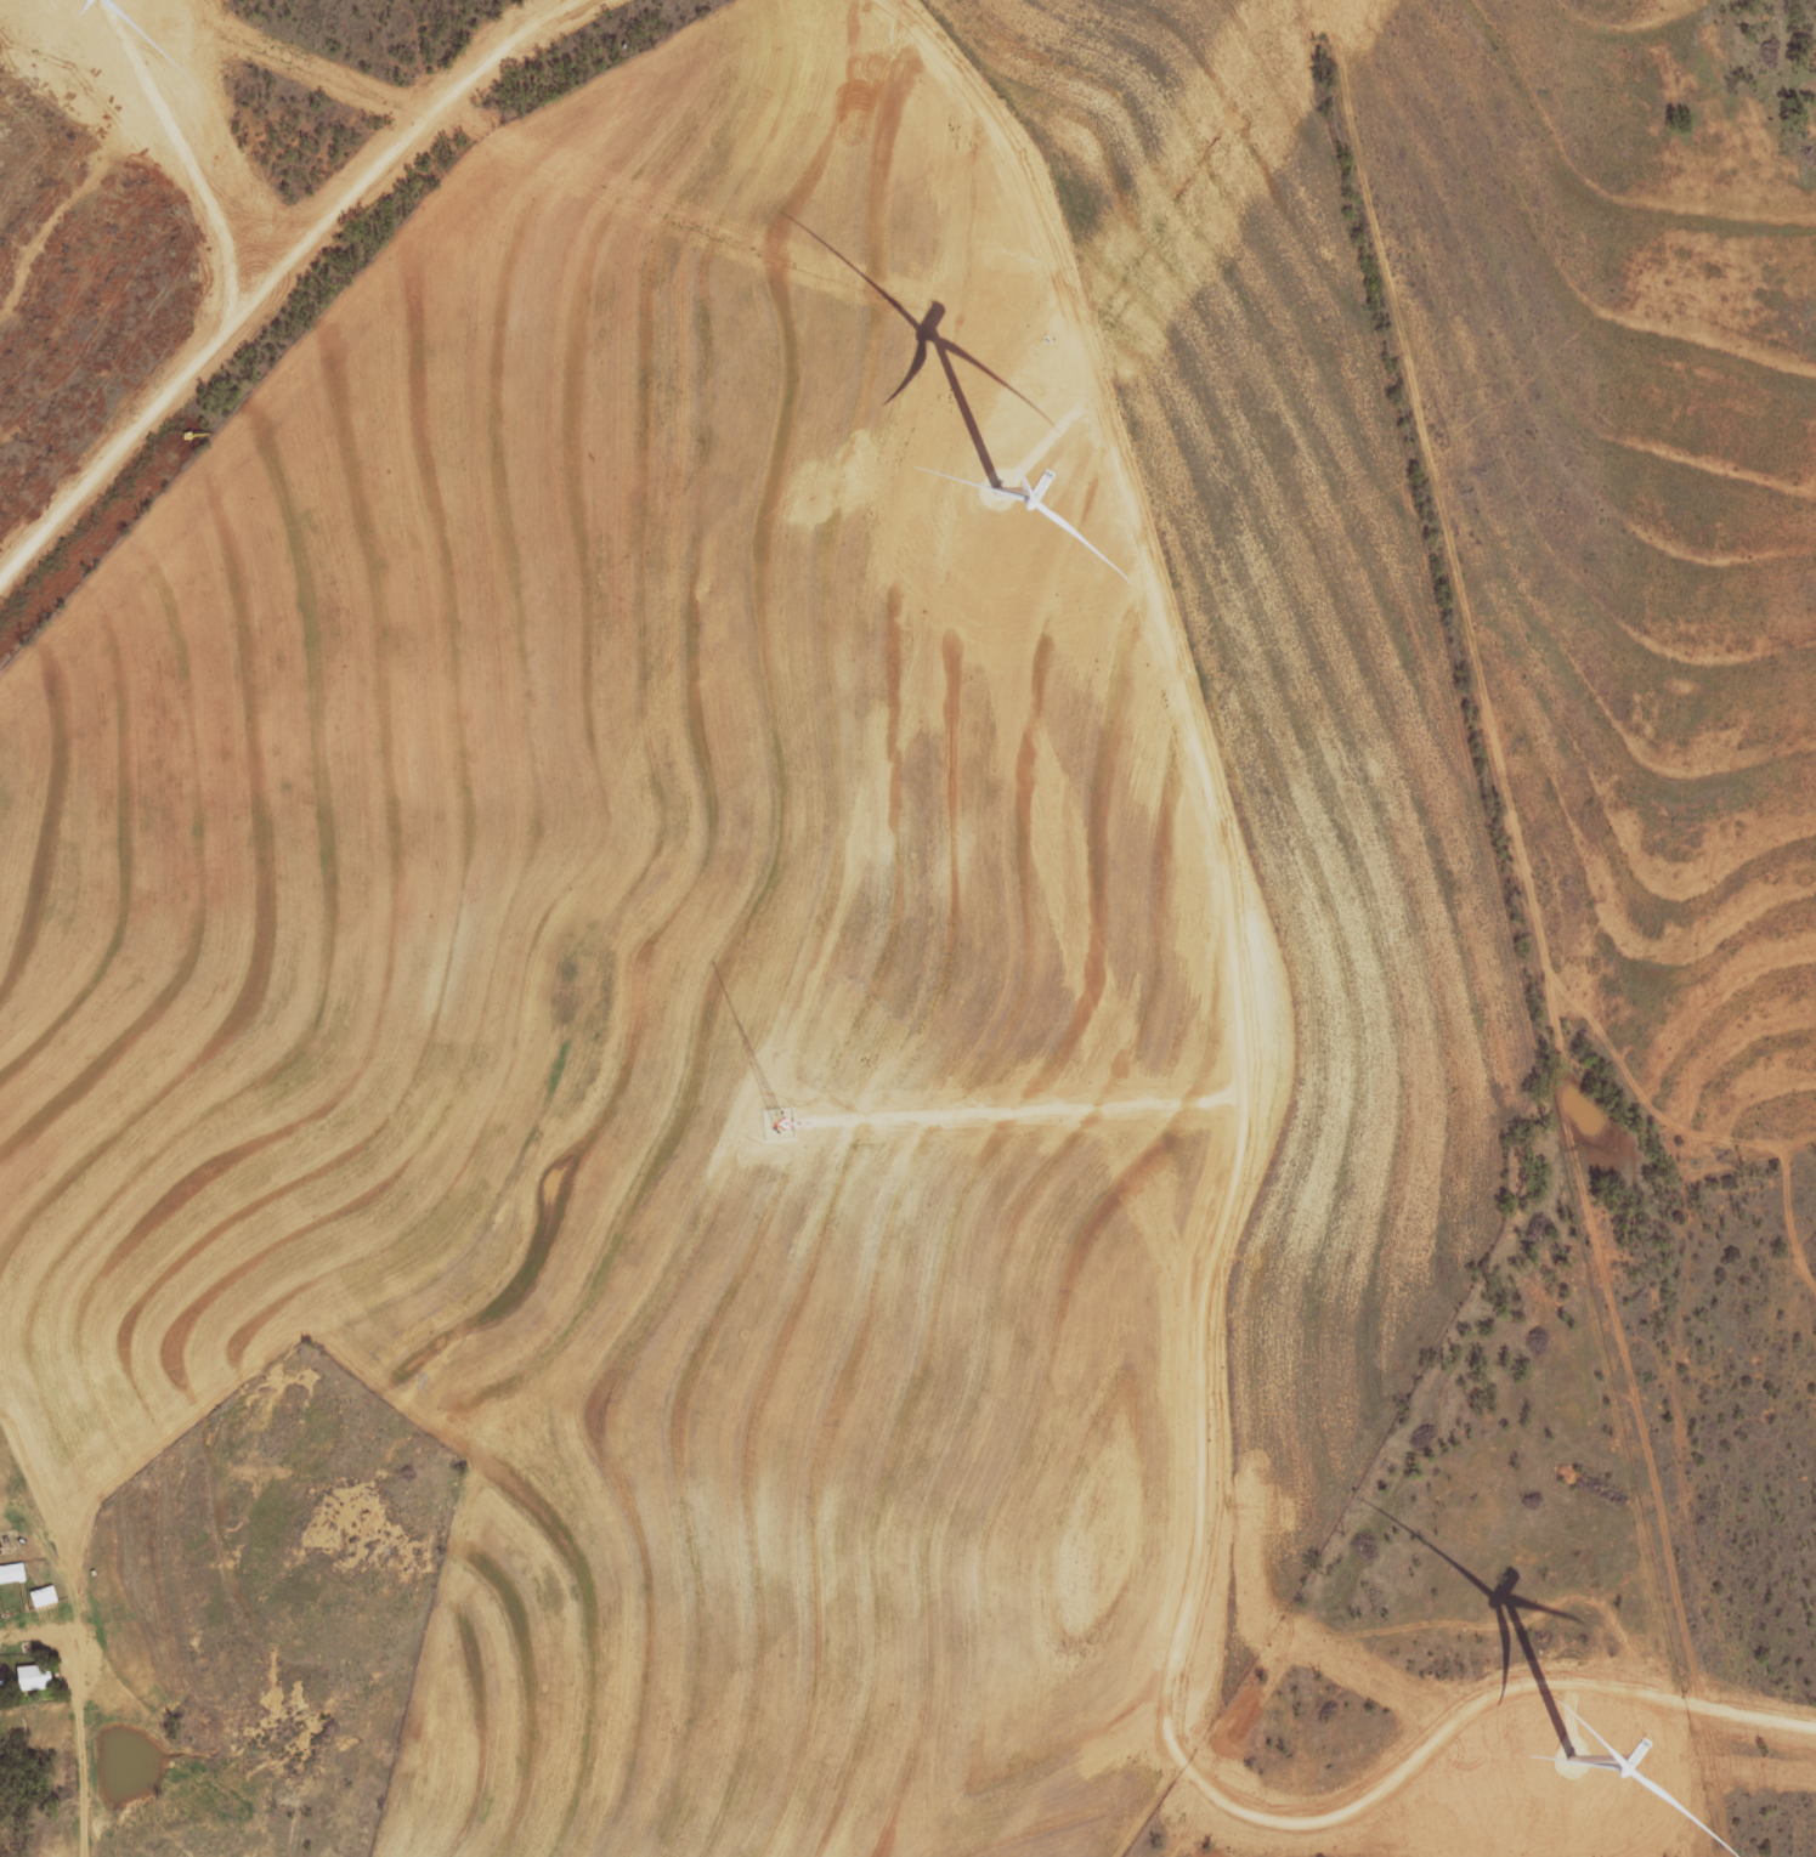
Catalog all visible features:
road: (276, 267)
wind turbine: (1000, 487)
road: (1024, 1111)
road: (1221, 1201)
building: (11, 1572)
building: (32, 1677)
road: (78, 1704)
wind turbine: (1568, 1760)
road: (1194, 1828)

